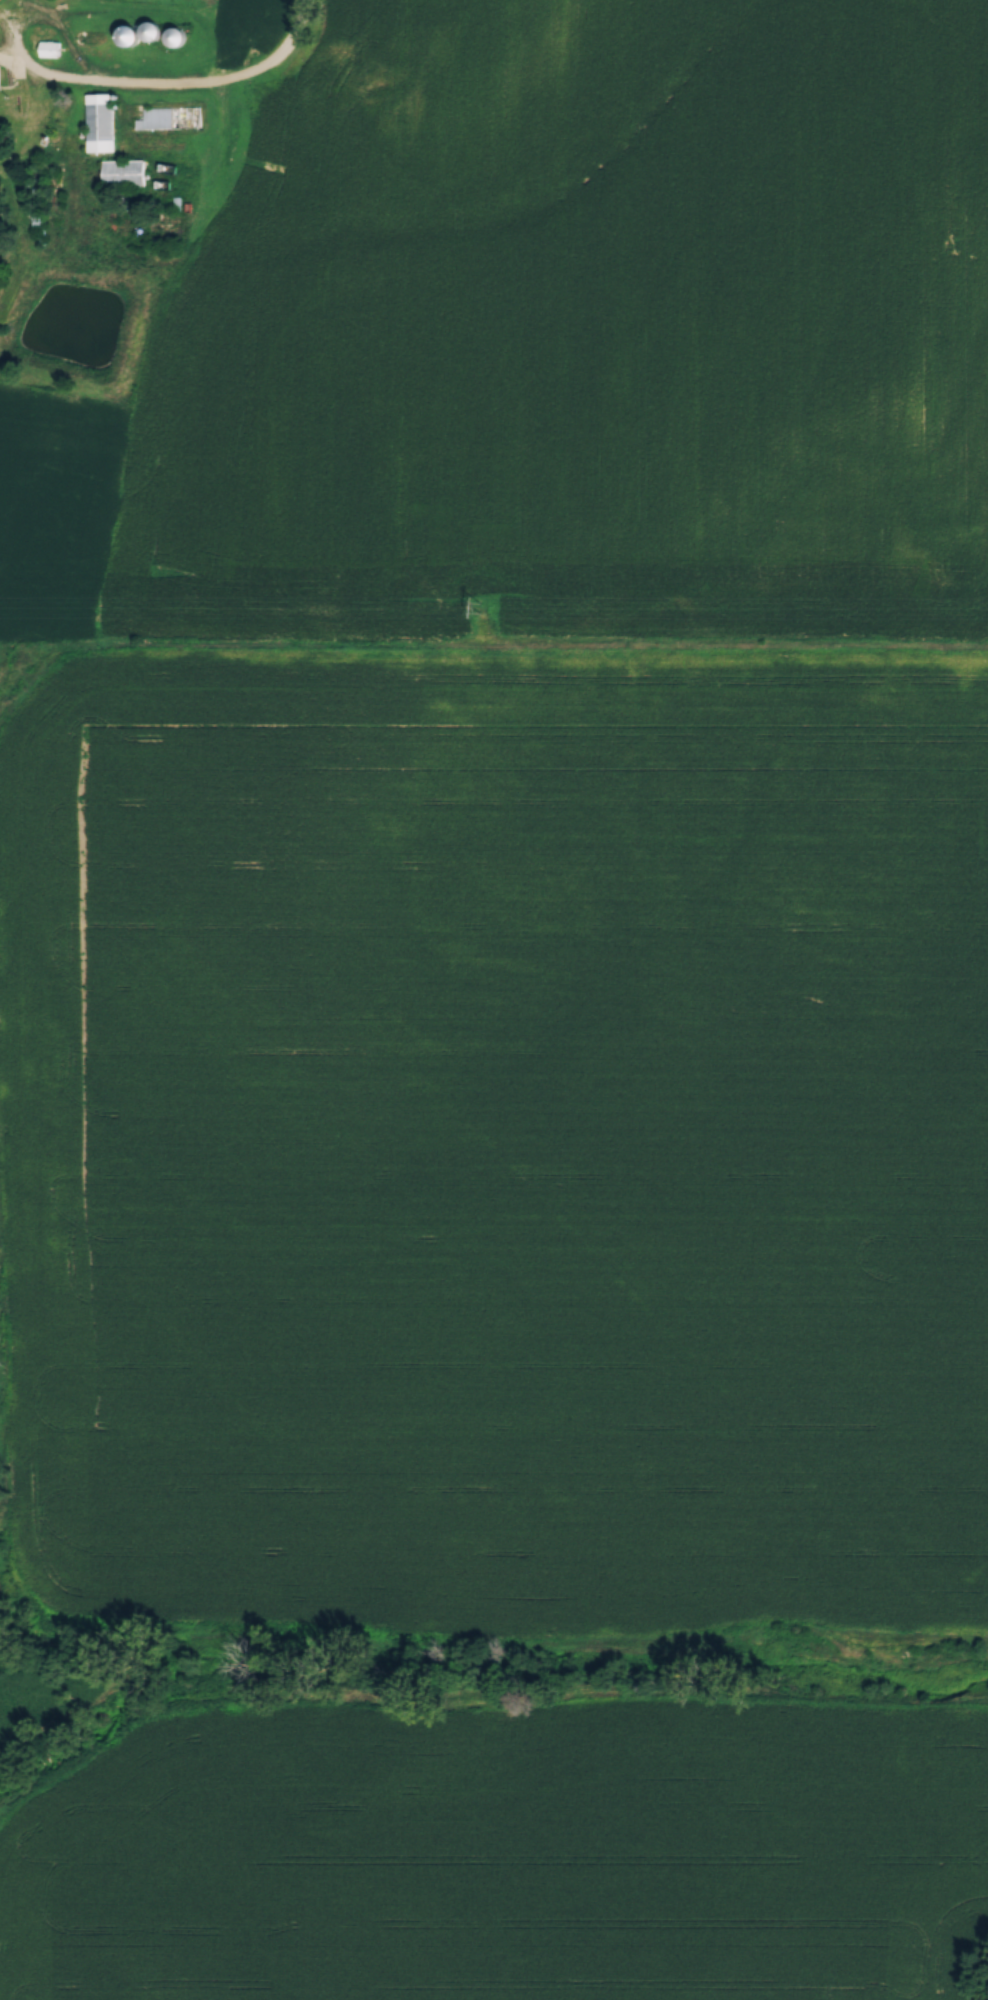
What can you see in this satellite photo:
building: (152, 27)
building: (129, 31)
building: (176, 32)
building: (0, 71)
road: (172, 81)
building: (171, 113)
building: (100, 118)
building: (124, 170)
power tower: (479, 604)

